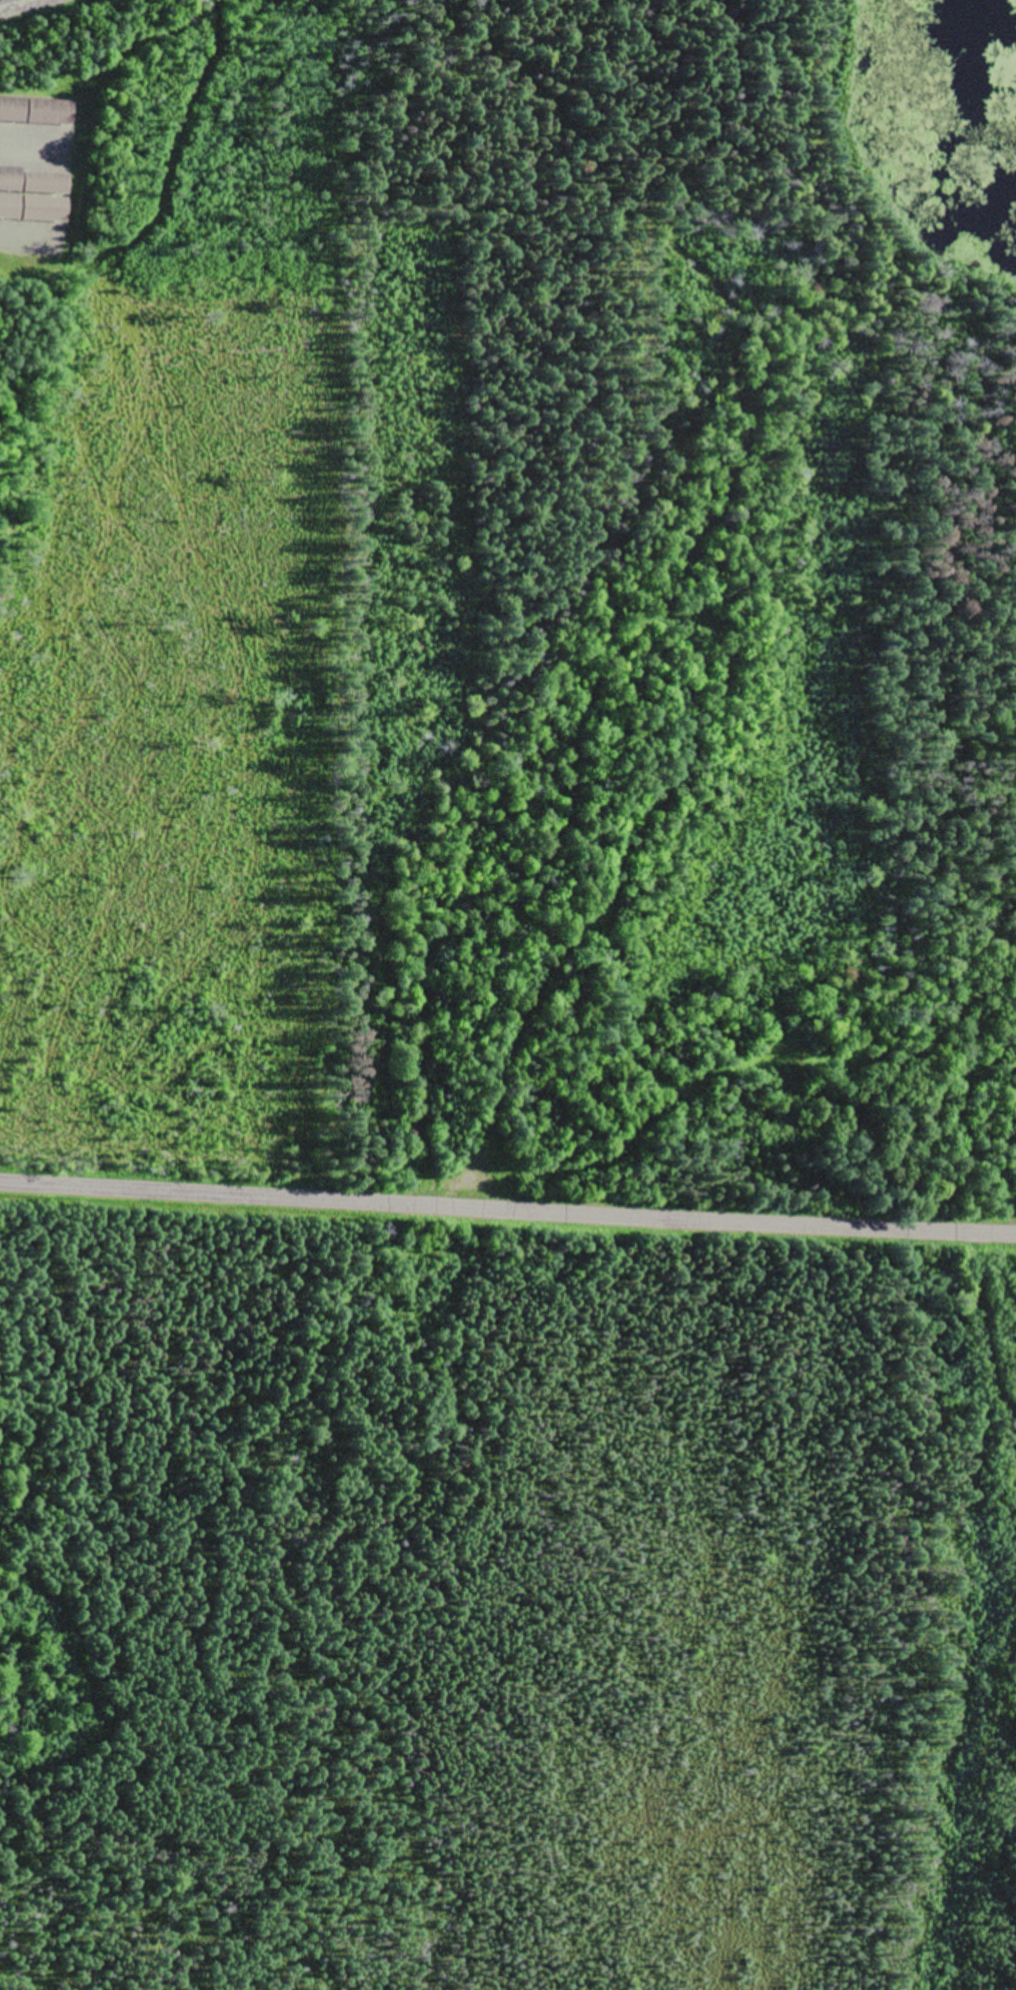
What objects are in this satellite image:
road: (27, 5)
building: (36, 113)
building: (33, 184)
building: (9, 209)
road: (507, 1211)

